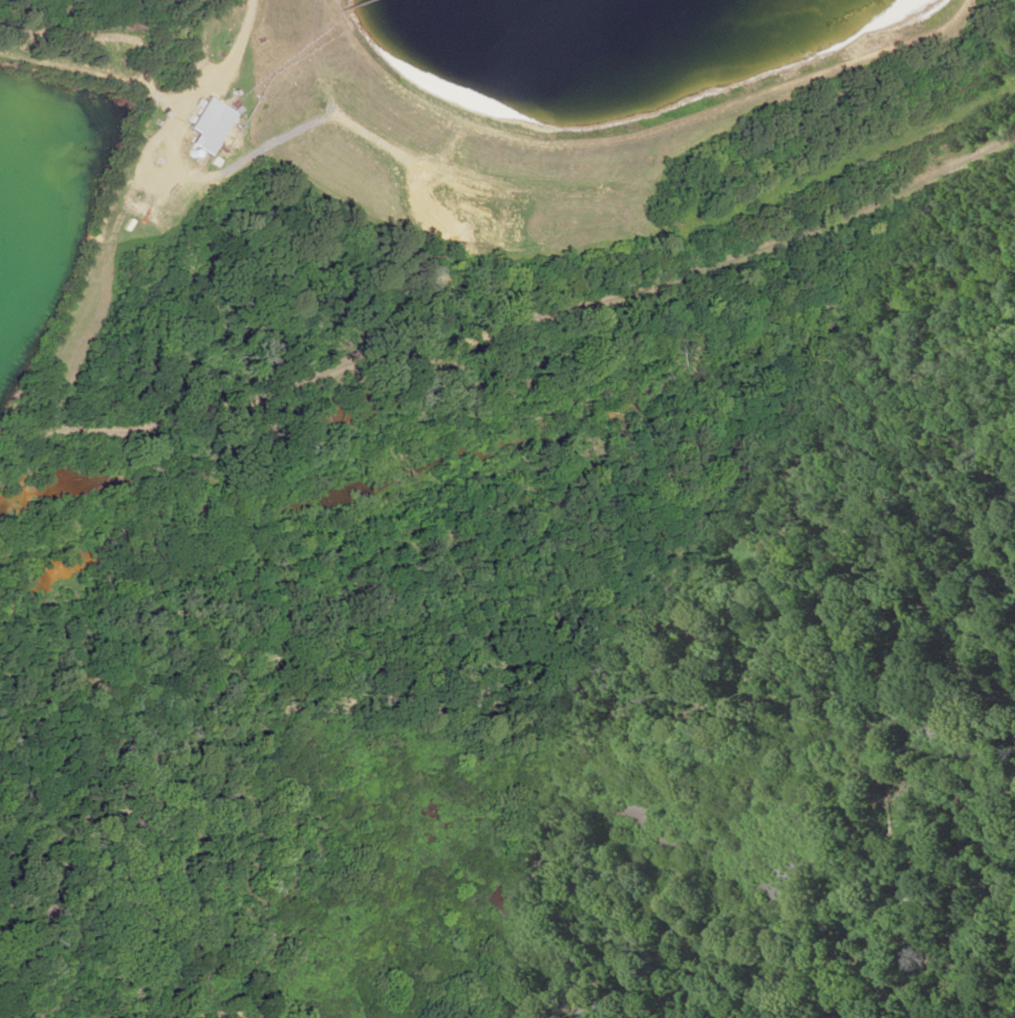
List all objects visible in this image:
road: (218, 64)
building: (204, 125)

